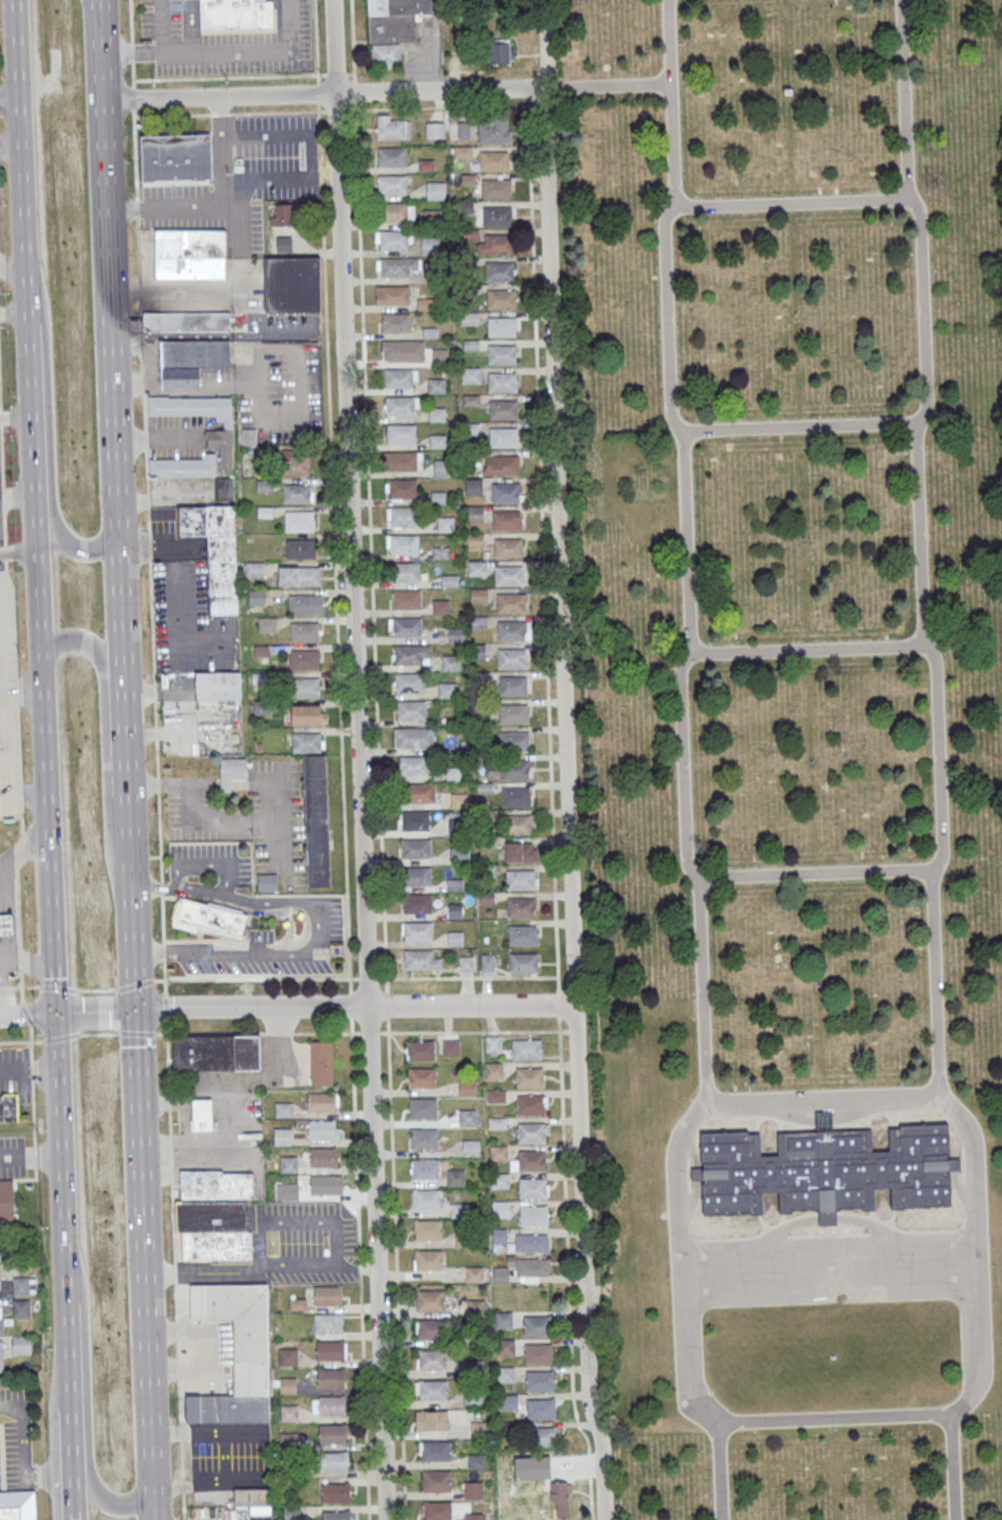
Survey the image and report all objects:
building: (235, 14)
building: (394, 19)
road: (435, 45)
parking lot: (424, 49)
road: (99, 50)
road: (251, 50)
road: (16, 52)
building: (485, 53)
road: (160, 54)
road: (280, 75)
road: (607, 86)
road: (438, 90)
road: (354, 91)
road: (218, 97)
road: (528, 97)
road: (902, 98)
road: (670, 102)
road: (9, 104)
road: (536, 105)
road: (330, 111)
building: (392, 127)
building: (434, 130)
building: (466, 130)
building: (493, 133)
building: (392, 156)
building: (494, 161)
building: (170, 162)
parking lot: (239, 179)
building: (392, 184)
building: (495, 188)
building: (435, 190)
road: (904, 197)
building: (465, 207)
road: (21, 209)
building: (393, 212)
building: (282, 214)
building: (496, 215)
building: (431, 218)
building: (393, 240)
building: (283, 243)
building: (498, 243)
building: (430, 245)
building: (190, 254)
building: (393, 267)
building: (499, 271)
building: (291, 284)
road: (178, 286)
building: (391, 295)
building: (501, 298)
road: (253, 310)
road: (14, 314)
road: (110, 315)
building: (469, 318)
building: (186, 321)
building: (396, 322)
building: (501, 326)
road: (183, 336)
building: (501, 354)
building: (439, 356)
building: (190, 361)
building: (471, 375)
building: (399, 378)
building: (502, 382)
building: (436, 385)
building: (399, 406)
building: (503, 410)
road: (23, 422)
building: (401, 433)
building: (503, 438)
building: (219, 439)
road: (153, 441)
road: (48, 455)
building: (403, 461)
building: (295, 462)
building: (503, 465)
building: (443, 468)
building: (194, 473)
building: (473, 486)
road: (35, 487)
road: (333, 488)
building: (403, 488)
road: (145, 489)
road: (2, 490)
building: (505, 492)
building: (296, 493)
road: (145, 501)
building: (474, 513)
building: (403, 516)
building: (506, 520)
building: (299, 521)
building: (445, 524)
road: (917, 534)
road: (542, 541)
road: (687, 542)
building: (405, 544)
building: (300, 548)
building: (508, 548)
building: (216, 553)
building: (476, 568)
building: (254, 569)
building: (406, 571)
building: (298, 575)
building: (509, 575)
building: (478, 596)
building: (256, 597)
building: (407, 599)
building: (305, 603)
building: (510, 603)
parking lot: (185, 612)
building: (407, 627)
building: (304, 631)
building: (511, 631)
building: (478, 651)
building: (411, 654)
road: (374, 656)
building: (304, 658)
building: (512, 658)
road: (935, 667)
building: (408, 682)
building: (512, 685)
building: (218, 686)
building: (305, 687)
building: (448, 689)
road: (123, 706)
parking lot: (7, 709)
building: (410, 709)
building: (513, 713)
building: (308, 714)
road: (106, 736)
building: (410, 738)
building: (307, 741)
building: (514, 741)
park: (793, 743)
road: (358, 759)
road: (566, 760)
building: (413, 765)
building: (514, 768)
building: (231, 771)
road: (203, 783)
road: (225, 783)
building: (421, 793)
building: (516, 796)
building: (458, 801)
road: (217, 820)
building: (316, 820)
building: (415, 820)
building: (517, 824)
road: (49, 836)
building: (416, 847)
road: (23, 850)
building: (521, 852)
building: (459, 855)
road: (204, 864)
building: (417, 876)
building: (520, 879)
building: (267, 882)
building: (418, 903)
building: (521, 907)
building: (454, 911)
building: (209, 918)
building: (6, 925)
road: (320, 926)
building: (417, 931)
building: (522, 934)
road: (18, 935)
building: (455, 939)
road: (131, 945)
road: (28, 959)
building: (418, 959)
building: (487, 962)
building: (523, 962)
building: (466, 963)
road: (565, 977)
road: (350, 978)
road: (933, 982)
road: (0, 983)
road: (702, 989)
road: (470, 1006)
road: (251, 1007)
traffic signals: (135, 1008)
road: (96, 1010)
road: (28, 1013)
traffic signals: (57, 1013)
road: (567, 1031)
road: (98, 1033)
road: (141, 1033)
road: (54, 1037)
road: (15, 1041)
building: (492, 1043)
building: (451, 1047)
building: (526, 1049)
building: (421, 1050)
building: (216, 1052)
building: (321, 1062)
building: (493, 1070)
building: (422, 1077)
building: (529, 1077)
road: (31, 1084)
building: (467, 1087)
building: (496, 1096)
building: (321, 1102)
building: (530, 1105)
building: (8, 1108)
building: (422, 1108)
building: (283, 1109)
road: (859, 1109)
road: (783, 1112)
building: (202, 1115)
building: (467, 1118)
road: (823, 1120)
building: (322, 1129)
building: (531, 1132)
building: (282, 1136)
building: (424, 1138)
road: (955, 1139)
building: (470, 1147)
road: (690, 1147)
road: (61, 1152)
parking lot: (11, 1156)
road: (31, 1156)
building: (322, 1157)
road: (355, 1157)
building: (529, 1161)
road: (954, 1163)
building: (288, 1164)
building: (425, 1168)
building: (825, 1168)
road: (696, 1173)
building: (455, 1177)
building: (499, 1180)
building: (215, 1184)
building: (324, 1184)
building: (533, 1188)
road: (564, 1191)
building: (287, 1192)
road: (960, 1194)
building: (426, 1199)
building: (6, 1201)
road: (690, 1203)
building: (499, 1208)
building: (533, 1215)
road: (827, 1217)
road: (335, 1222)
road: (868, 1224)
road: (783, 1228)
building: (428, 1229)
building: (214, 1230)
road: (829, 1241)
building: (531, 1242)
road: (144, 1248)
building: (428, 1259)
building: (531, 1268)
road: (208, 1272)
building: (473, 1274)
building: (500, 1275)
road: (175, 1276)
road: (396, 1276)
building: (0, 1277)
building: (21, 1285)
building: (327, 1295)
building: (429, 1299)
building: (297, 1305)
building: (21, 1308)
building: (475, 1308)
building: (1, 1318)
building: (503, 1319)
building: (328, 1323)
building: (536, 1325)
building: (239, 1328)
road: (193, 1329)
building: (431, 1329)
building: (21, 1345)
building: (505, 1347)
building: (329, 1350)
road: (69, 1353)
building: (538, 1353)
road: (976, 1354)
building: (1, 1356)
building: (287, 1356)
building: (432, 1359)
road: (172, 1374)
building: (505, 1374)
building: (330, 1378)
building: (539, 1381)
building: (288, 1385)
building: (433, 1390)
building: (474, 1400)
building: (508, 1402)
building: (331, 1406)
building: (227, 1408)
building: (540, 1408)
building: (288, 1413)
building: (433, 1420)
road: (87, 1426)
building: (480, 1429)
road: (204, 1430)
building: (332, 1434)
building: (544, 1437)
building: (436, 1450)
building: (334, 1461)
building: (476, 1461)
road: (23, 1463)
road: (949, 1466)
road: (73, 1467)
road: (720, 1470)
road: (82, 1480)
building: (435, 1480)
building: (473, 1490)
building: (335, 1492)
building: (561, 1497)
road: (25, 1500)
building: (255, 1502)
road: (154, 1504)
building: (437, 1510)
building: (11, 1512)
building: (291, 1513)
building: (335, 1515)
building: (473, 1516)

